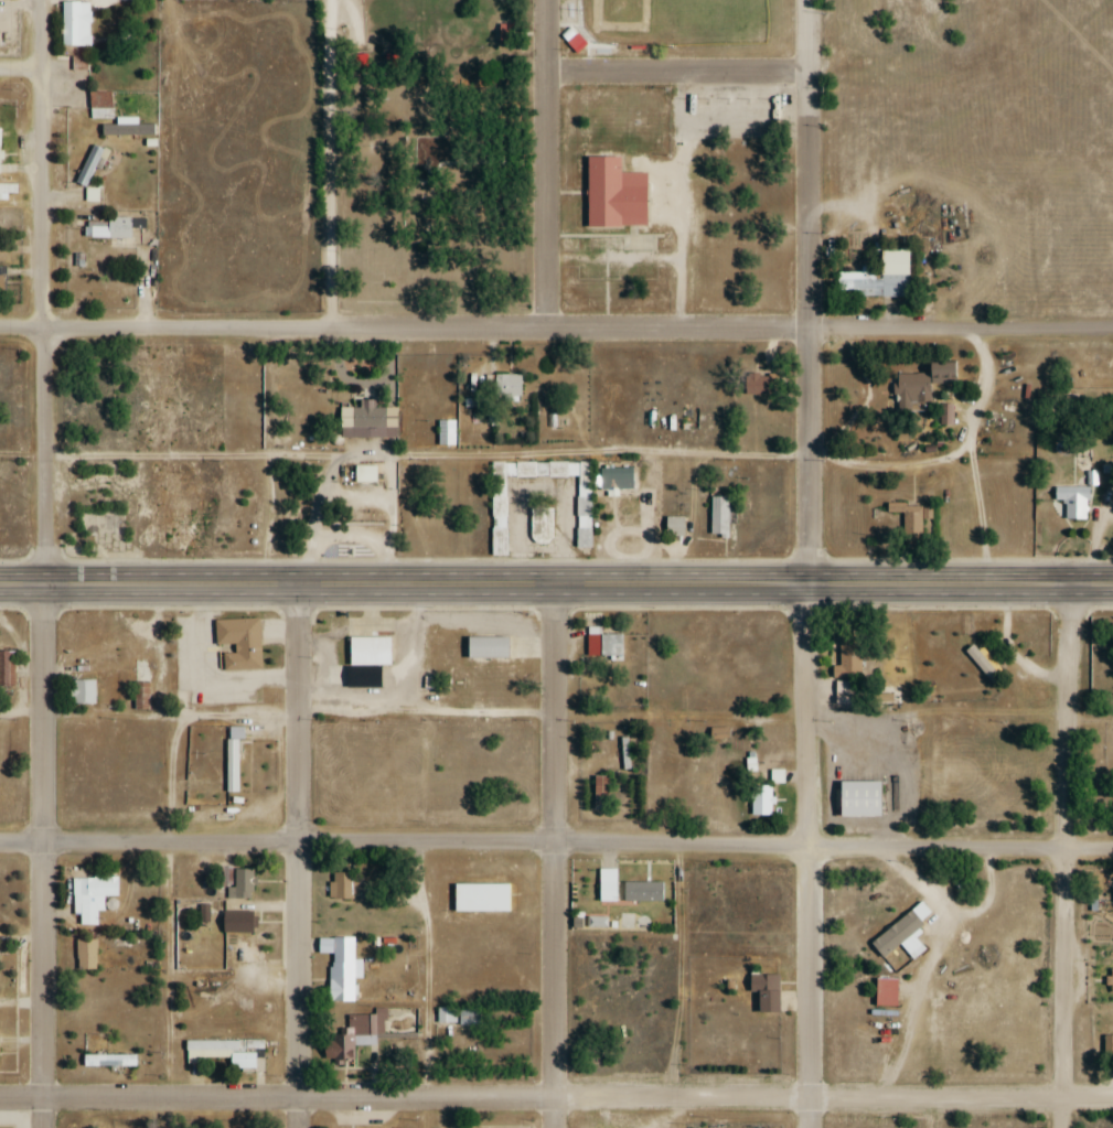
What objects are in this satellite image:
road: (115, 8)
park: (675, 20)
road: (570, 21)
parking lot: (346, 22)
road: (364, 22)
building: (74, 24)
road: (502, 25)
building: (509, 28)
road: (532, 30)
road: (560, 33)
road: (801, 33)
road: (677, 40)
building: (574, 42)
road: (365, 47)
road: (770, 53)
road: (595, 54)
road: (372, 57)
road: (388, 57)
road: (400, 64)
road: (578, 66)
road: (697, 66)
road: (20, 69)
road: (679, 74)
road: (514, 79)
road: (686, 84)
building: (100, 106)
road: (708, 136)
road: (684, 149)
road: (416, 150)
road: (506, 158)
road: (580, 158)
road: (331, 164)
road: (549, 164)
building: (88, 165)
road: (694, 171)
road: (793, 171)
park: (555, 182)
parking lot: (670, 185)
road: (571, 189)
building: (8, 191)
building: (620, 192)
road: (592, 224)
building: (111, 228)
road: (636, 228)
road: (608, 233)
road: (581, 254)
parking lot: (621, 254)
road: (662, 254)
road: (617, 256)
road: (395, 273)
road: (654, 275)
road: (683, 276)
building: (1, 280)
building: (871, 284)
road: (610, 292)
road: (41, 294)
road: (811, 294)
road: (556, 330)
road: (1110, 330)
building: (756, 385)
building: (506, 386)
building: (922, 386)
building: (362, 421)
building: (445, 433)
road: (970, 454)
road: (486, 456)
road: (271, 458)
building: (364, 475)
building: (616, 479)
building: (584, 491)
building: (1073, 502)
building: (511, 505)
building: (909, 517)
building: (719, 518)
building: (674, 527)
road: (556, 588)
building: (239, 643)
building: (603, 644)
building: (486, 648)
building: (372, 652)
building: (157, 666)
building: (7, 669)
building: (84, 694)
road: (534, 715)
building: (718, 733)
building: (233, 766)
building: (761, 801)
road: (556, 842)
road: (300, 857)
road: (43, 858)
road: (556, 858)
road: (807, 858)
road: (1066, 858)
building: (242, 883)
building: (341, 885)
building: (642, 891)
building: (92, 896)
building: (481, 898)
building: (204, 913)
building: (236, 922)
building: (244, 953)
building: (85, 954)
building: (342, 969)
building: (1111, 980)
road: (428, 984)
road: (170, 986)
road: (679, 986)
building: (764, 991)
building: (456, 1017)
building: (371, 1032)
building: (227, 1053)
building: (108, 1061)
road: (556, 1096)

